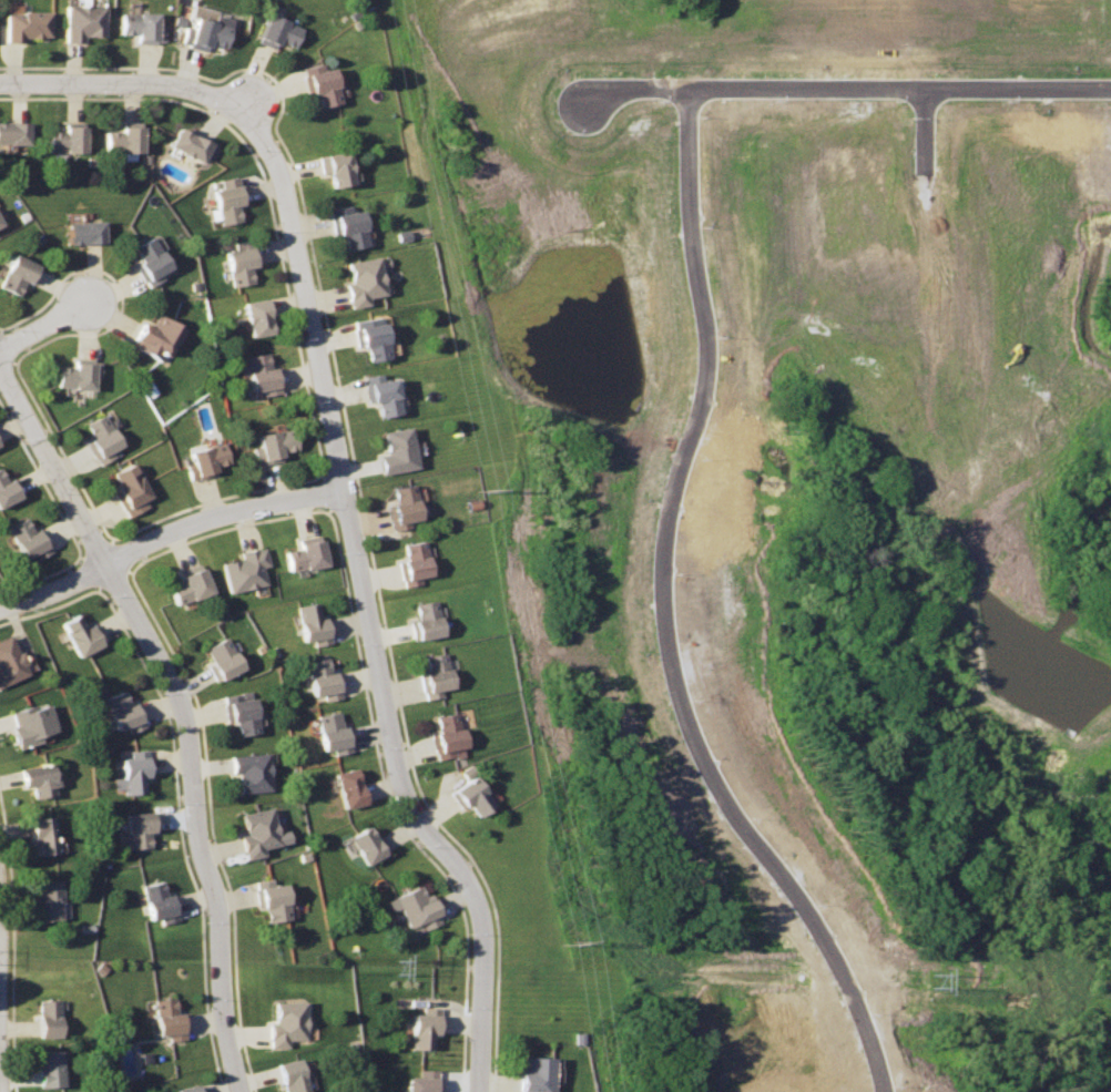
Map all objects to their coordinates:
building: (83, 21)
building: (27, 23)
building: (142, 25)
building: (278, 31)
building: (206, 32)
road: (123, 81)
building: (322, 83)
road: (633, 83)
road: (246, 103)
building: (14, 132)
building: (69, 139)
building: (126, 140)
building: (192, 144)
building: (337, 167)
building: (228, 201)
building: (0, 221)
building: (0, 224)
building: (350, 226)
building: (86, 232)
building: (151, 259)
building: (243, 261)
building: (19, 273)
building: (365, 280)
building: (261, 317)
road: (44, 324)
building: (156, 336)
building: (374, 339)
building: (79, 374)
building: (263, 374)
building: (385, 395)
road: (695, 406)
building: (102, 438)
building: (273, 445)
building: (398, 450)
building: (206, 461)
building: (131, 489)
building: (7, 491)
power tower: (487, 491)
building: (404, 508)
road: (218, 514)
building: (29, 539)
building: (305, 555)
building: (415, 563)
building: (245, 571)
building: (190, 586)
road: (53, 589)
road: (364, 605)
building: (427, 620)
building: (313, 623)
building: (80, 635)
building: (223, 660)
building: (9, 662)
building: (437, 674)
building: (323, 680)
road: (182, 707)
building: (123, 712)
building: (241, 713)
building: (32, 724)
building: (334, 733)
building: (448, 736)
building: (253, 772)
building: (134, 773)
building: (40, 779)
building: (350, 787)
building: (472, 796)
building: (141, 828)
building: (258, 831)
building: (44, 836)
building: (367, 844)
building: (50, 899)
building: (161, 902)
building: (274, 902)
building: (416, 909)
power tower: (567, 941)
building: (51, 1018)
building: (171, 1018)
building: (288, 1022)
building: (426, 1025)
building: (50, 1067)
building: (539, 1073)
building: (294, 1075)
road: (0, 1079)
building: (428, 1081)
road: (0, 1086)
building: (188, 1088)

